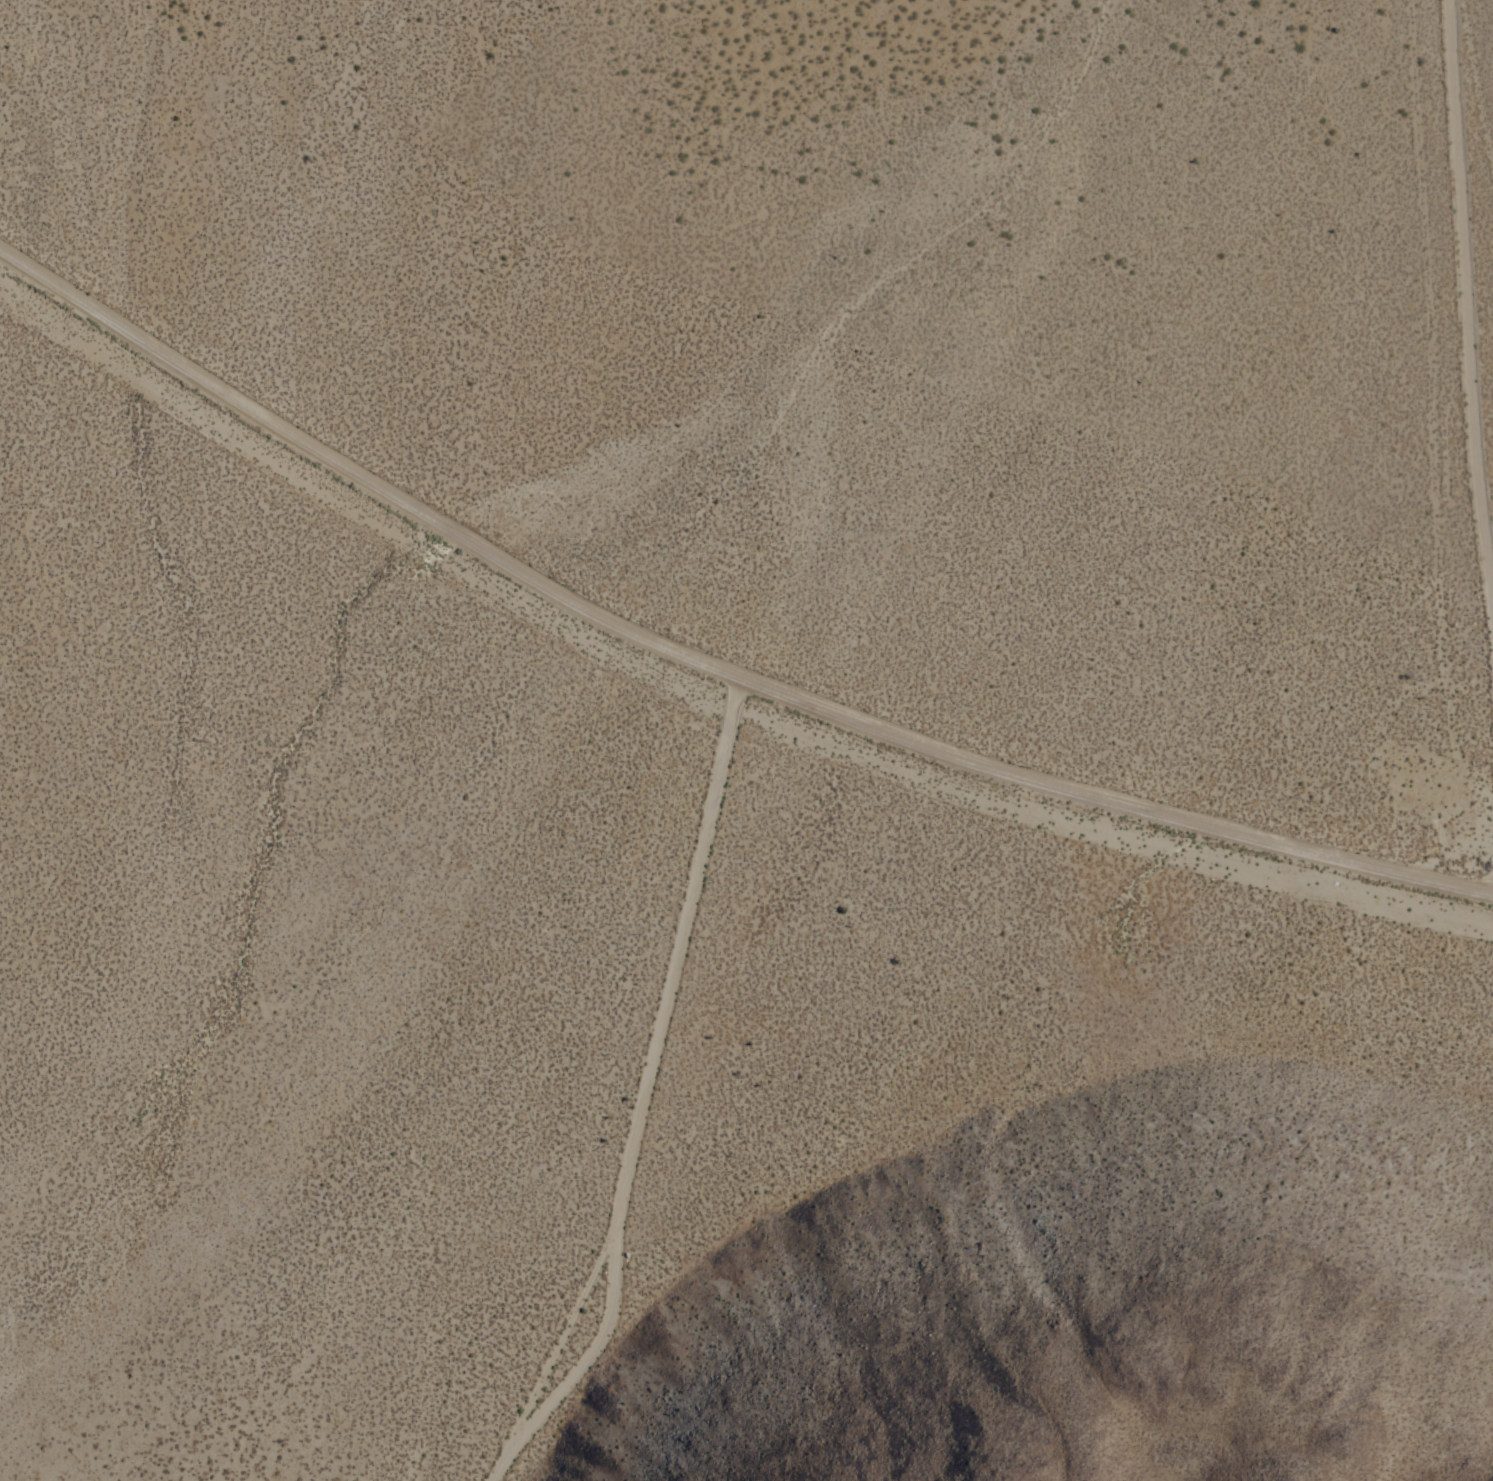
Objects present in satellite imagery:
road: (707, 663)
road: (644, 1096)

